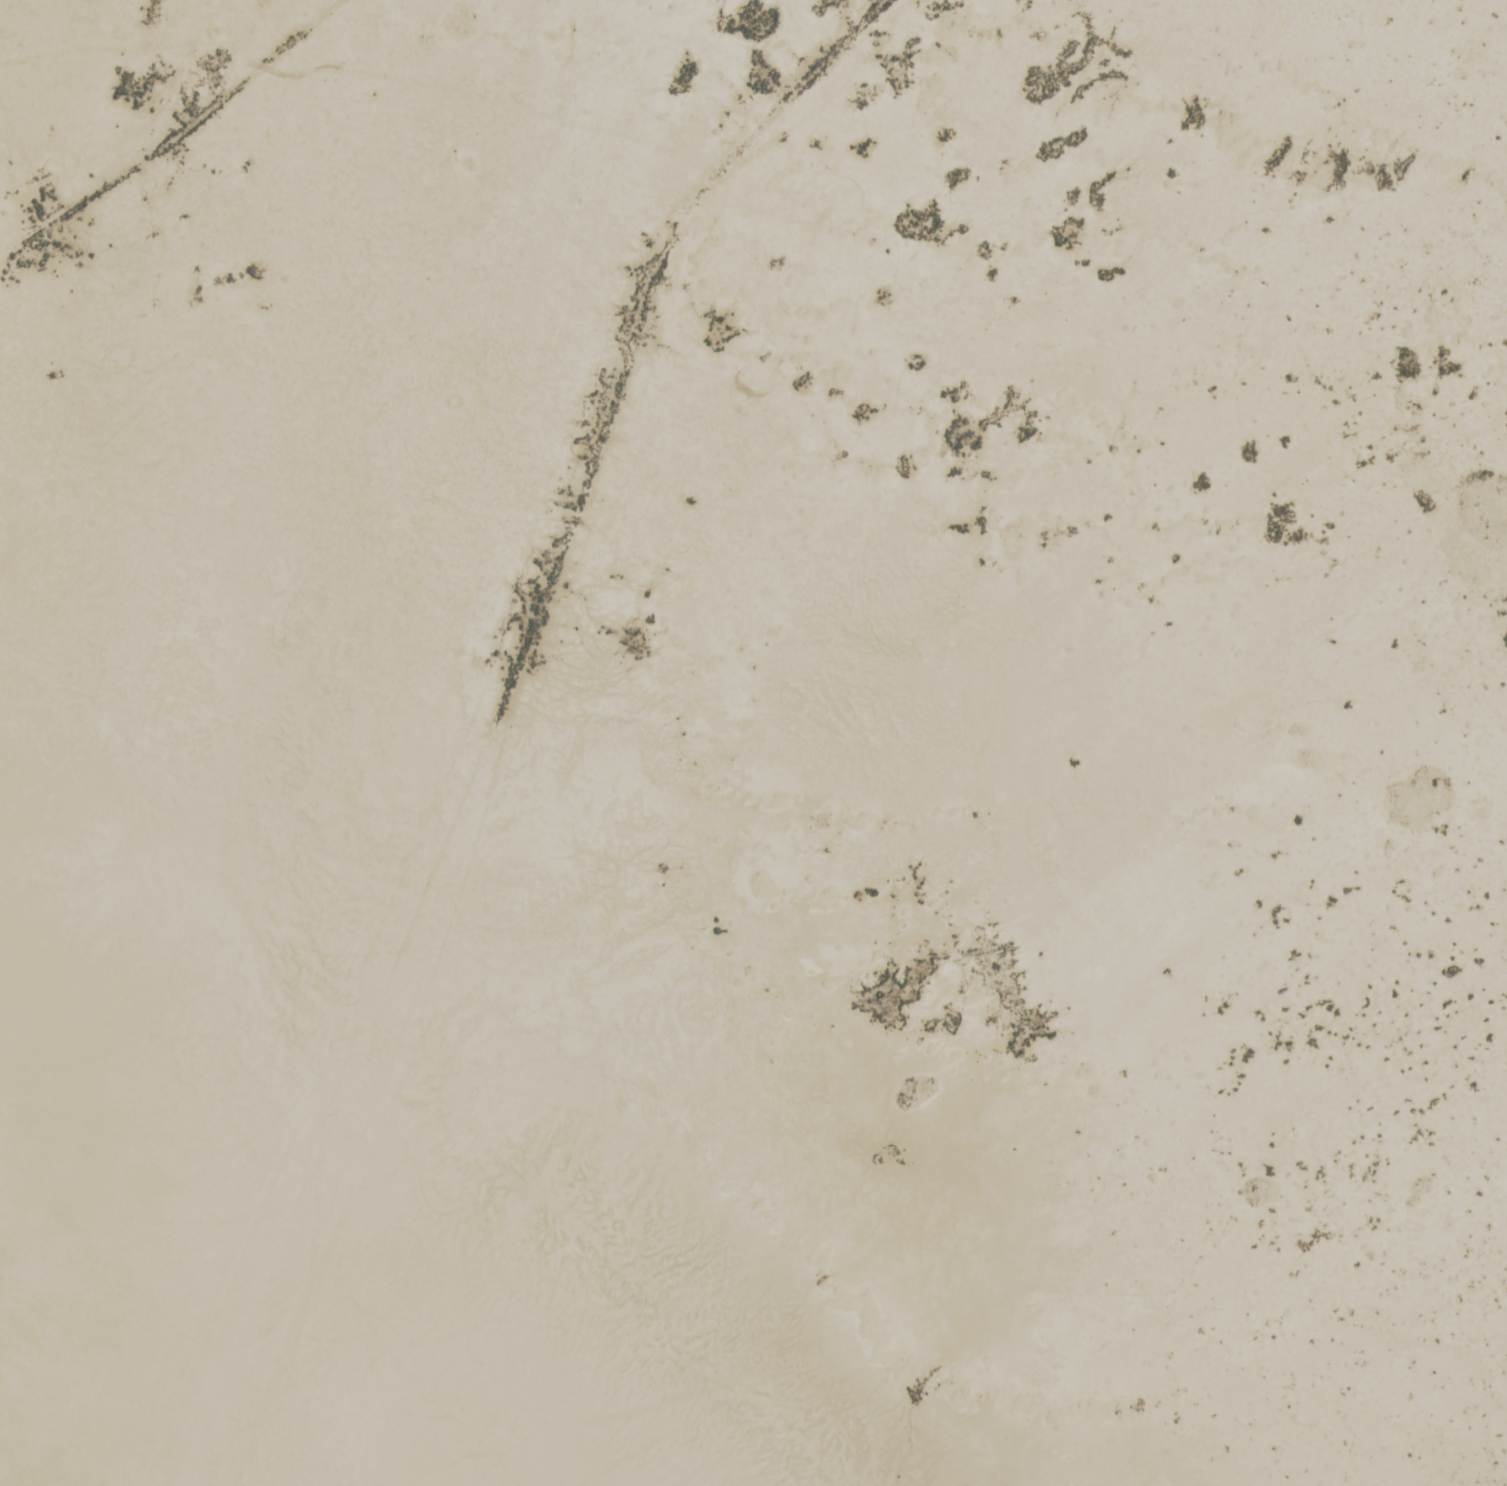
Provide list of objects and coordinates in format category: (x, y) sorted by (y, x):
road: (170, 122)
road: (436, 708)

